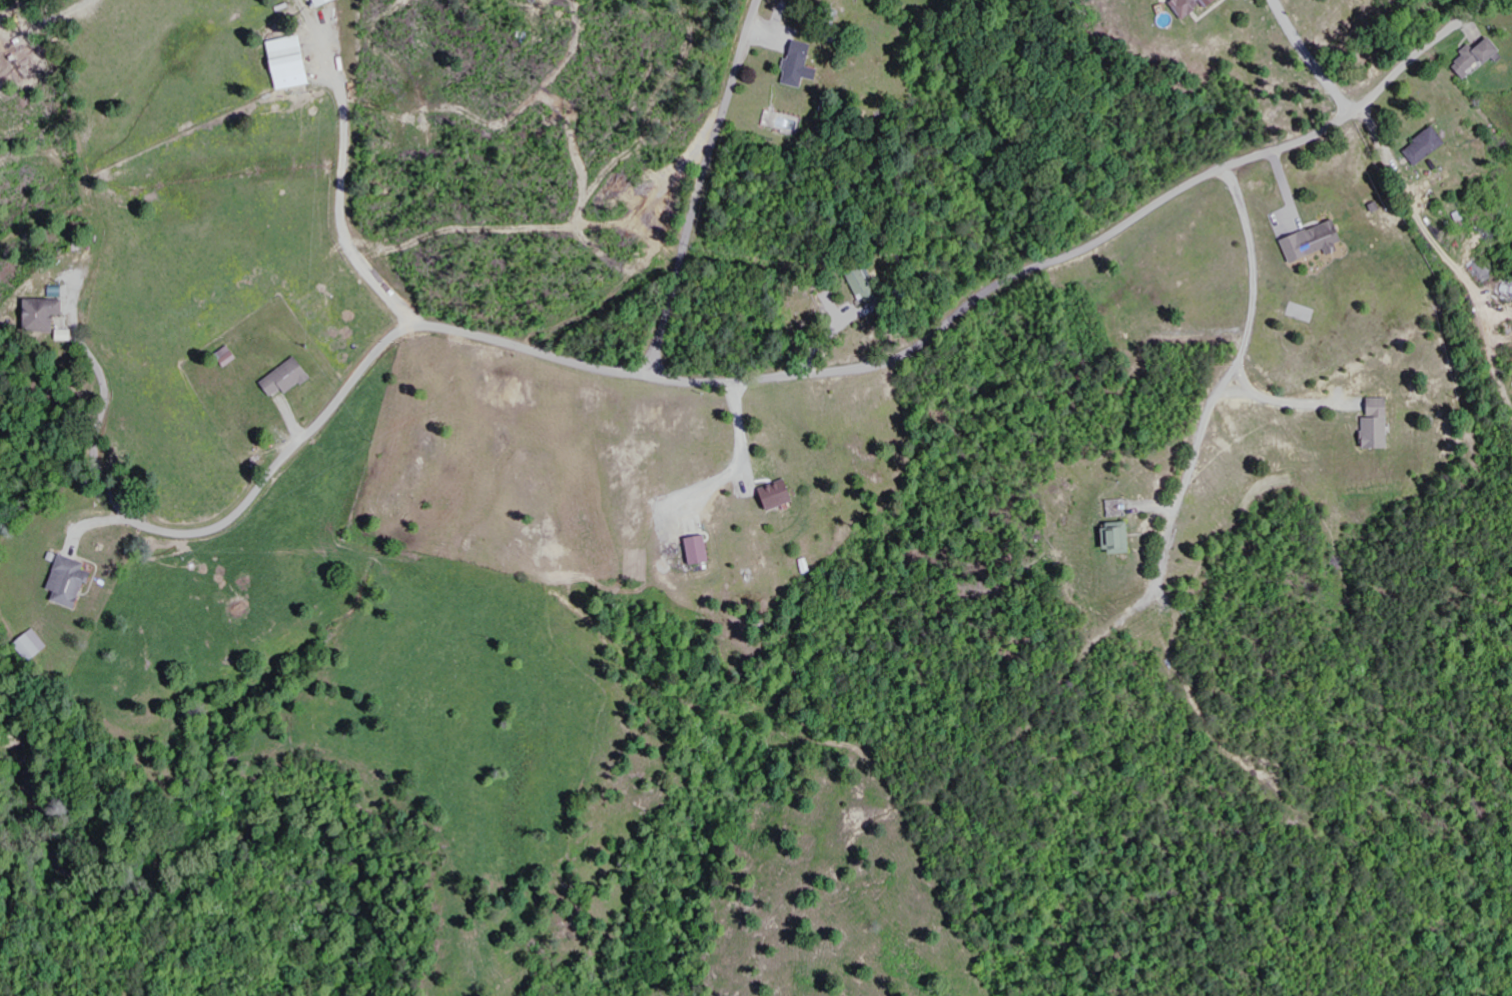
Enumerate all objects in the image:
building: (326, 2)
building: (1195, 7)
building: (1479, 56)
road: (1312, 58)
building: (296, 62)
building: (804, 65)
building: (1428, 146)
road: (701, 186)
building: (1317, 242)
road: (1090, 244)
building: (866, 290)
building: (60, 291)
building: (48, 315)
road: (375, 354)
building: (290, 377)
building: (1381, 425)
road: (1176, 483)
building: (782, 495)
building: (1121, 537)
building: (704, 550)
building: (73, 581)
building: (35, 645)

